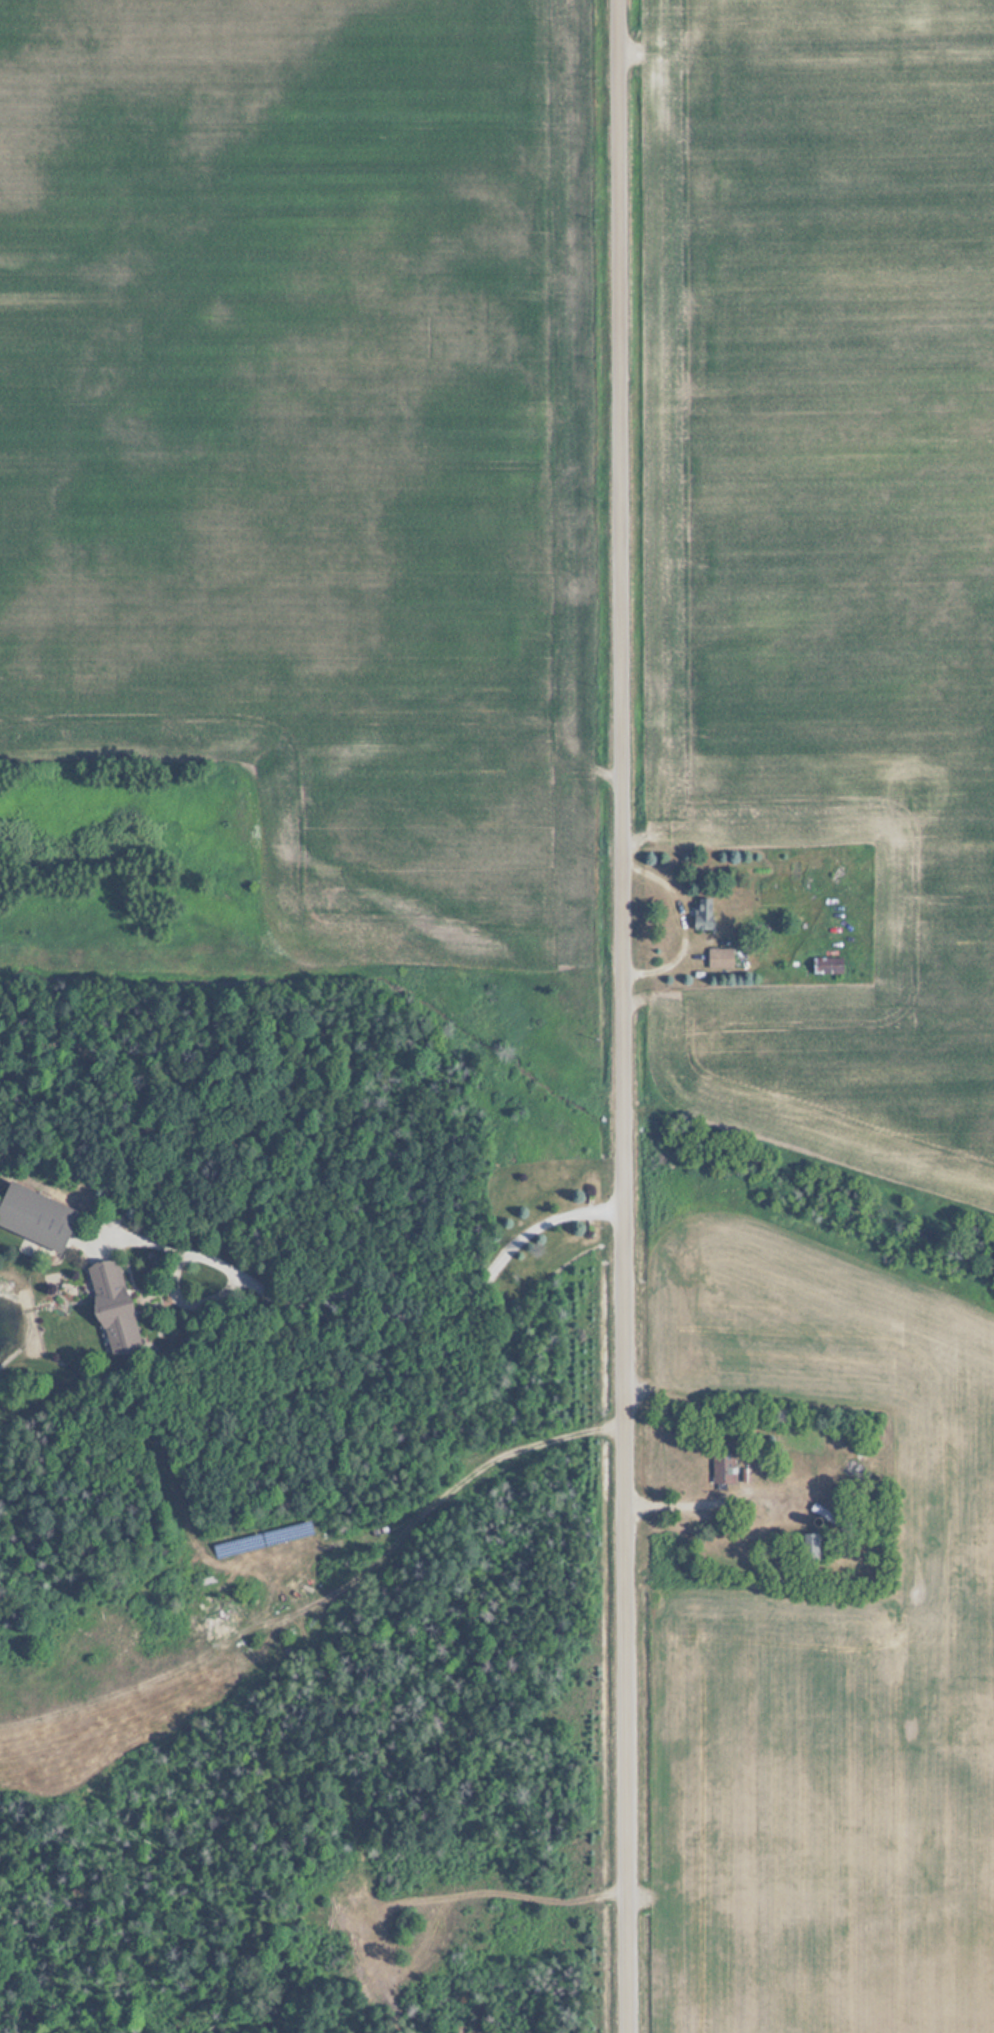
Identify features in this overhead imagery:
building: (703, 914)
building: (720, 958)
building: (827, 966)
road: (621, 1016)
building: (36, 1216)
building: (114, 1307)
building: (723, 1468)
building: (828, 1516)
building: (809, 1546)

